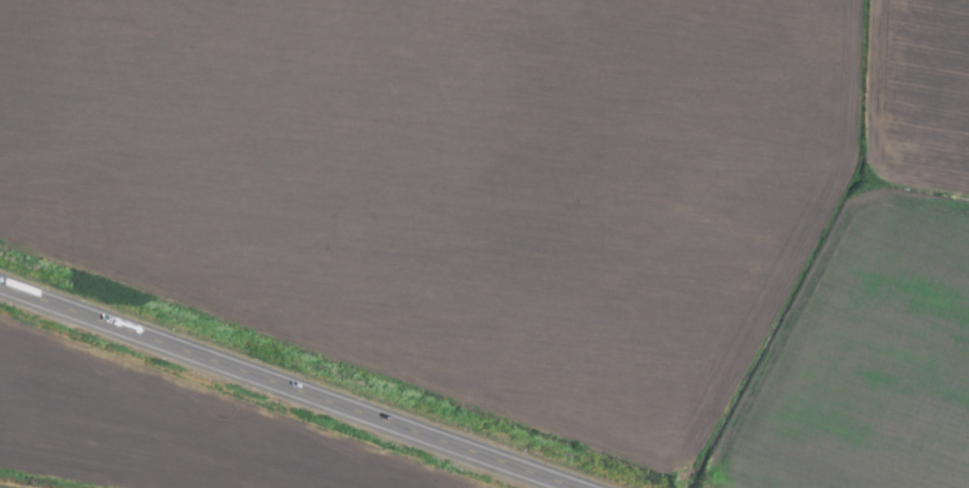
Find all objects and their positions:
crop: (484, 244)
road: (285, 387)

